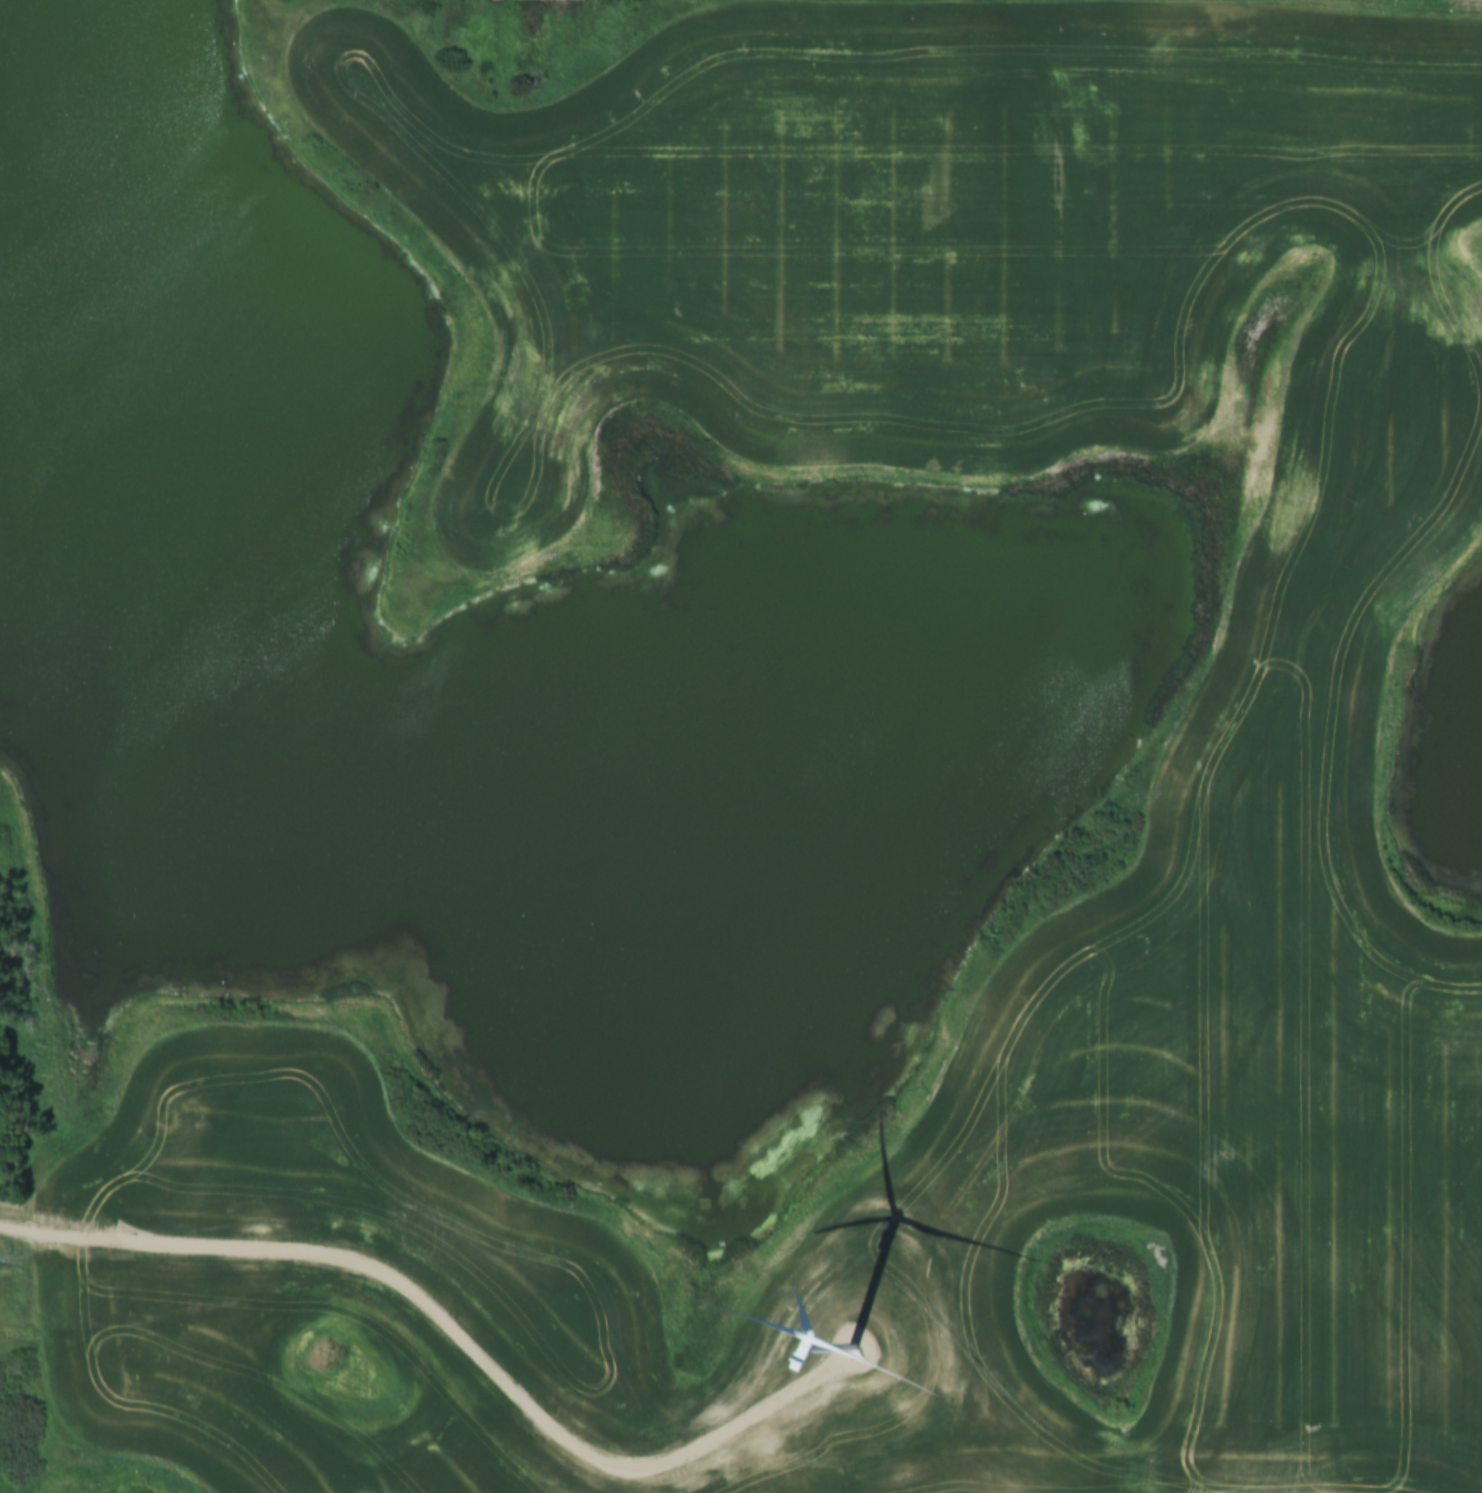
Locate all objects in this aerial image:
road: (378, 1277)
wind turbine: (825, 1338)

